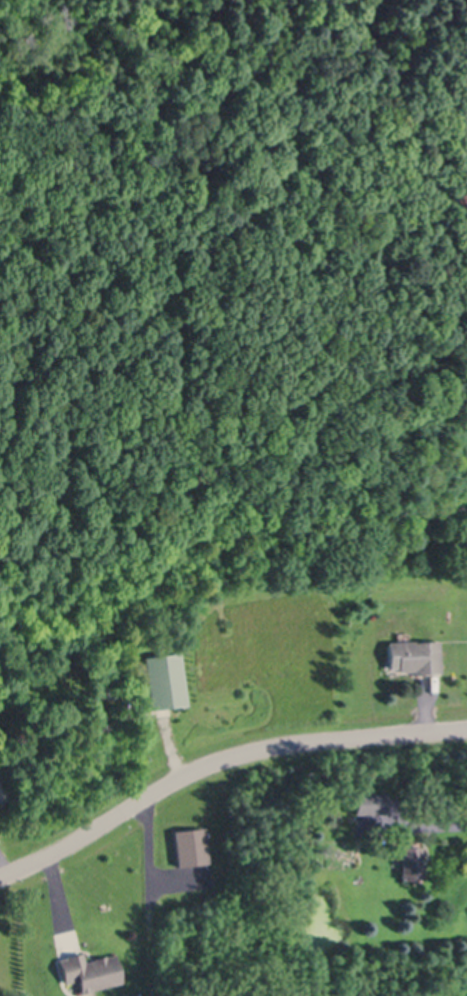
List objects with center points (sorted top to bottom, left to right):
building: (386, 414)
building: (418, 655)
building: (165, 680)
road: (220, 759)
building: (399, 800)
building: (371, 801)
road: (432, 828)
building: (193, 845)
building: (413, 862)
road: (3, 863)
building: (91, 969)

